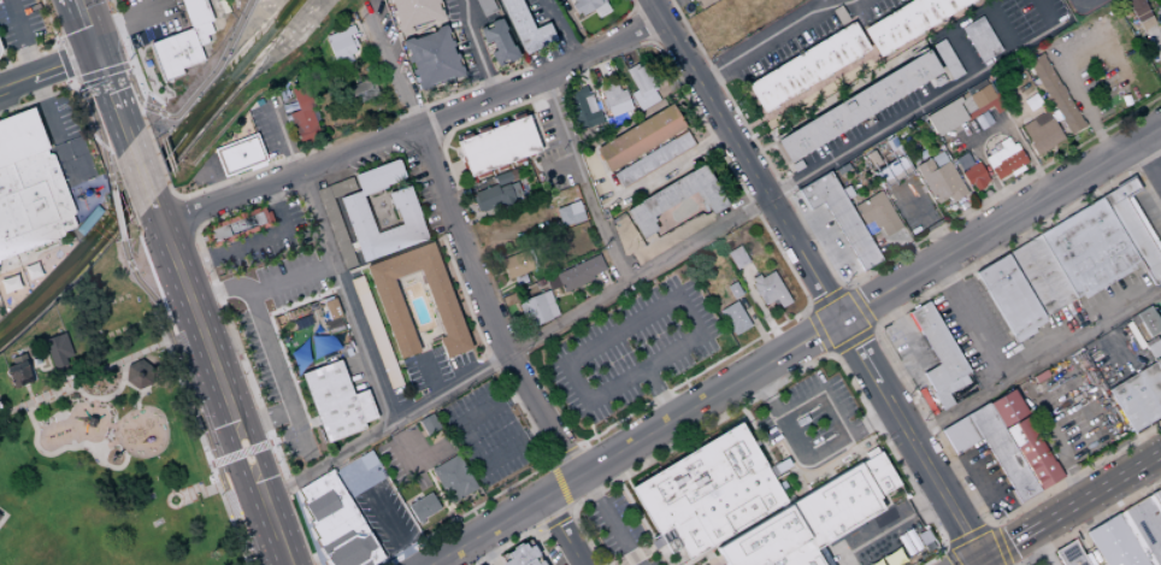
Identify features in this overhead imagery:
building: (705, 2)
road: (1083, 5)
building: (485, 6)
building: (588, 6)
road: (632, 8)
building: (876, 8)
building: (195, 12)
building: (414, 12)
building: (1139, 12)
building: (839, 14)
building: (1021, 17)
road: (83, 18)
road: (961, 20)
building: (909, 22)
road: (131, 23)
road: (612, 23)
road: (643, 23)
building: (526, 27)
road: (1002, 27)
road: (560, 29)
building: (201, 33)
road: (772, 34)
building: (982, 37)
road: (22, 39)
road: (1154, 39)
road: (652, 40)
road: (73, 41)
building: (341, 42)
building: (353, 42)
building: (499, 42)
road: (55, 45)
road: (93, 46)
building: (784, 47)
road: (49, 48)
road: (476, 49)
road: (624, 51)
road: (963, 51)
road: (128, 52)
building: (176, 54)
building: (432, 57)
building: (948, 58)
road: (603, 64)
road: (66, 65)
road: (66, 66)
building: (808, 66)
building: (347, 72)
road: (104, 75)
road: (583, 75)
road: (207, 76)
building: (641, 78)
building: (939, 80)
road: (1067, 80)
road: (674, 81)
road: (18, 84)
road: (75, 86)
road: (77, 88)
road: (471, 89)
building: (359, 92)
building: (1055, 92)
building: (982, 95)
building: (613, 96)
road: (112, 98)
building: (646, 99)
road: (924, 104)
building: (860, 105)
building: (583, 107)
road: (130, 108)
building: (632, 110)
road: (90, 113)
building: (302, 114)
road: (1154, 114)
building: (618, 117)
building: (945, 117)
road: (431, 119)
road: (755, 122)
road: (467, 123)
road: (537, 124)
road: (1008, 124)
road: (146, 126)
road: (413, 128)
road: (585, 134)
building: (1041, 134)
building: (19, 136)
road: (282, 136)
road: (441, 136)
building: (640, 137)
building: (497, 145)
road: (767, 146)
road: (1120, 147)
road: (1151, 149)
building: (238, 154)
road: (455, 154)
building: (653, 159)
building: (1006, 159)
road: (1148, 160)
road: (159, 163)
building: (797, 165)
road: (559, 169)
road: (668, 169)
road: (140, 170)
building: (891, 171)
road: (1133, 171)
road: (990, 175)
road: (240, 176)
building: (974, 176)
building: (379, 177)
building: (502, 178)
building: (941, 179)
road: (414, 181)
road: (582, 181)
building: (341, 187)
road: (123, 188)
road: (468, 188)
building: (491, 196)
building: (676, 199)
building: (31, 204)
road: (153, 208)
road: (181, 211)
building: (570, 213)
building: (877, 213)
road: (116, 216)
building: (269, 217)
building: (842, 217)
road: (921, 218)
building: (358, 219)
building: (236, 225)
building: (335, 226)
road: (195, 228)
building: (1133, 228)
building: (625, 234)
road: (166, 236)
road: (508, 236)
building: (668, 236)
parking lot: (264, 240)
road: (253, 241)
road: (465, 247)
building: (1089, 249)
road: (390, 257)
building: (737, 257)
building: (531, 258)
building: (515, 264)
building: (576, 273)
road: (672, 273)
road: (258, 275)
building: (1041, 275)
road: (792, 276)
road: (859, 276)
building: (519, 278)
road: (818, 279)
road: (602, 283)
building: (7, 284)
road: (839, 286)
road: (640, 287)
road: (664, 289)
building: (733, 289)
building: (770, 289)
road: (497, 290)
road: (346, 295)
building: (1009, 296)
road: (825, 298)
road: (809, 306)
road: (855, 306)
building: (444, 307)
building: (536, 308)
road: (760, 308)
building: (330, 314)
building: (735, 318)
road: (971, 319)
building: (1145, 320)
park: (678, 322)
road: (756, 326)
road: (872, 326)
road: (821, 329)
building: (375, 330)
road: (849, 337)
road: (235, 343)
road: (795, 345)
road: (1118, 347)
building: (1153, 347)
road: (514, 348)
building: (936, 348)
road: (631, 349)
road: (714, 349)
building: (57, 351)
road: (488, 353)
road: (830, 353)
road: (889, 360)
road: (1036, 361)
building: (1159, 361)
road: (685, 367)
parking lot: (599, 370)
building: (16, 372)
building: (137, 375)
road: (428, 375)
road: (81, 376)
road: (218, 379)
road: (780, 379)
road: (281, 382)
road: (291, 382)
parking lot: (276, 383)
road: (609, 384)
road: (181, 388)
road: (567, 389)
road: (189, 392)
building: (1139, 398)
road: (299, 400)
building: (330, 400)
building: (364, 406)
building: (1008, 407)
road: (835, 408)
road: (779, 418)
road: (264, 419)
park: (99, 423)
road: (307, 424)
building: (429, 424)
road: (730, 425)
parking lot: (488, 435)
building: (823, 442)
road: (467, 447)
road: (767, 448)
building: (992, 448)
road: (564, 453)
building: (1036, 455)
road: (417, 459)
building: (358, 473)
building: (878, 475)
park: (110, 476)
building: (453, 478)
building: (697, 479)
road: (564, 482)
road: (437, 485)
road: (555, 487)
road: (1101, 490)
building: (1156, 496)
fountain: (171, 500)
road: (466, 502)
road: (301, 504)
building: (835, 506)
building: (423, 507)
building: (330, 508)
road: (570, 508)
road: (517, 510)
road: (383, 512)
road: (464, 513)
building: (726, 514)
road: (548, 519)
road: (608, 519)
road: (477, 520)
road: (1088, 522)
road: (310, 524)
road: (989, 524)
road: (889, 526)
building: (1144, 528)
road: (462, 529)
road: (562, 530)
road: (529, 532)
road: (968, 537)
road: (517, 538)
building: (762, 540)
building: (918, 540)
building: (1114, 542)
road: (316, 543)
road: (1013, 543)
road: (1002, 545)
road: (1041, 548)
road: (487, 549)
road: (947, 549)
building: (350, 551)
building: (520, 555)
building: (796, 555)
building: (1069, 555)
road: (714, 557)
building: (891, 558)
road: (951, 558)
building: (1091, 558)
traffic signals: (985, 561)
building: (530, 563)
building: (540, 563)
road: (712, 563)
road: (982, 563)
road: (985, 563)
road: (285, 564)

